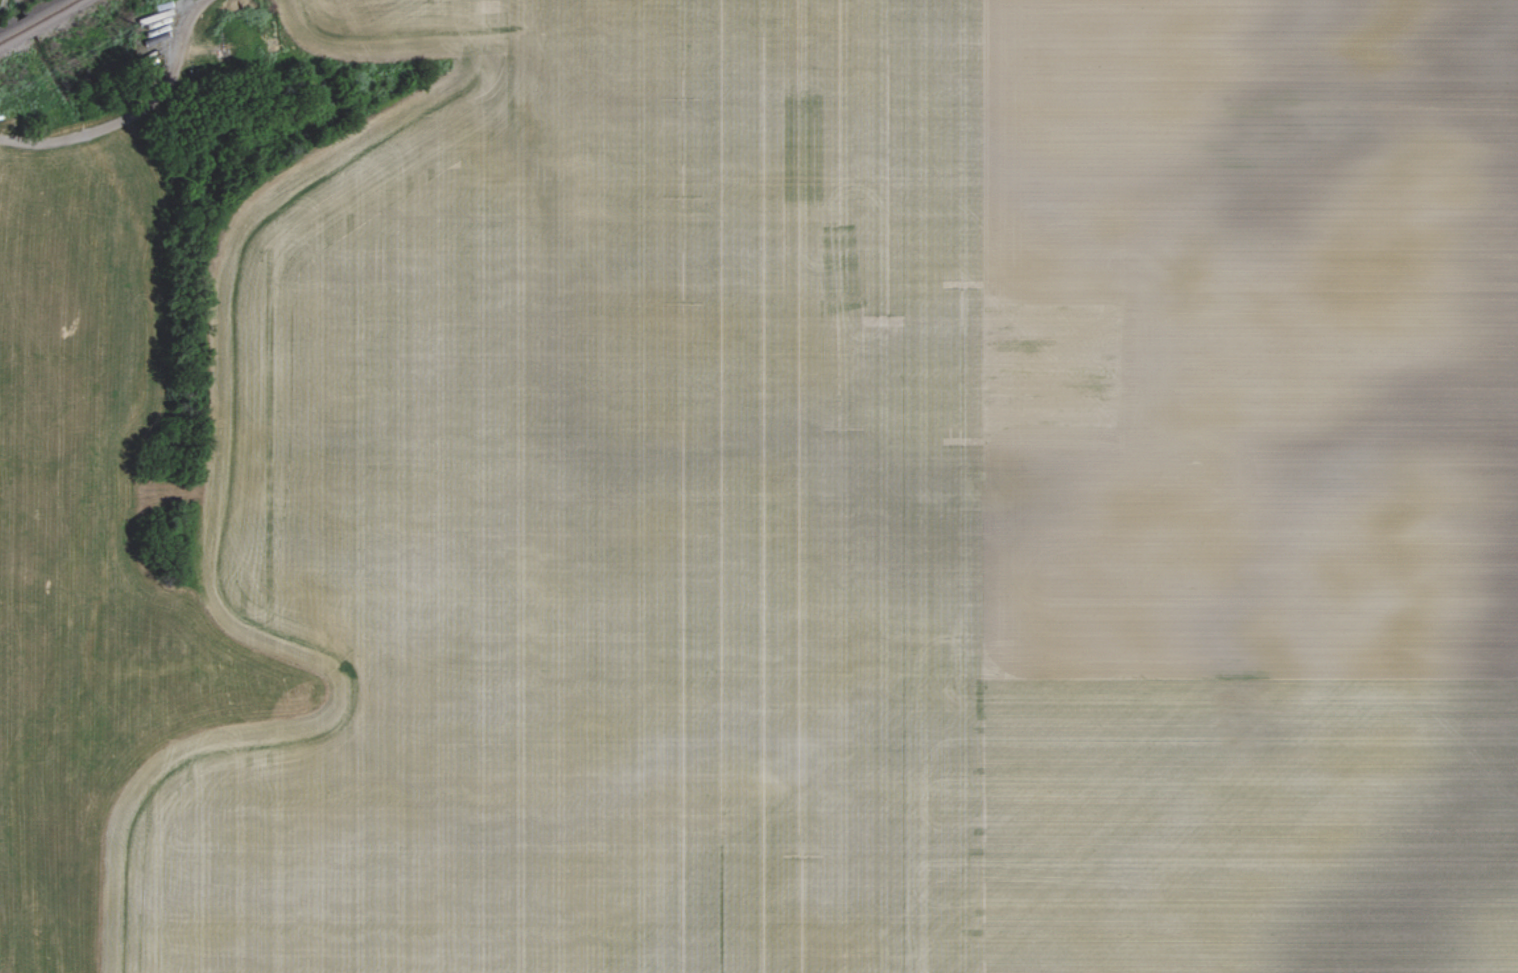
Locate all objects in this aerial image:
railway: (37, 20)
road: (133, 114)

